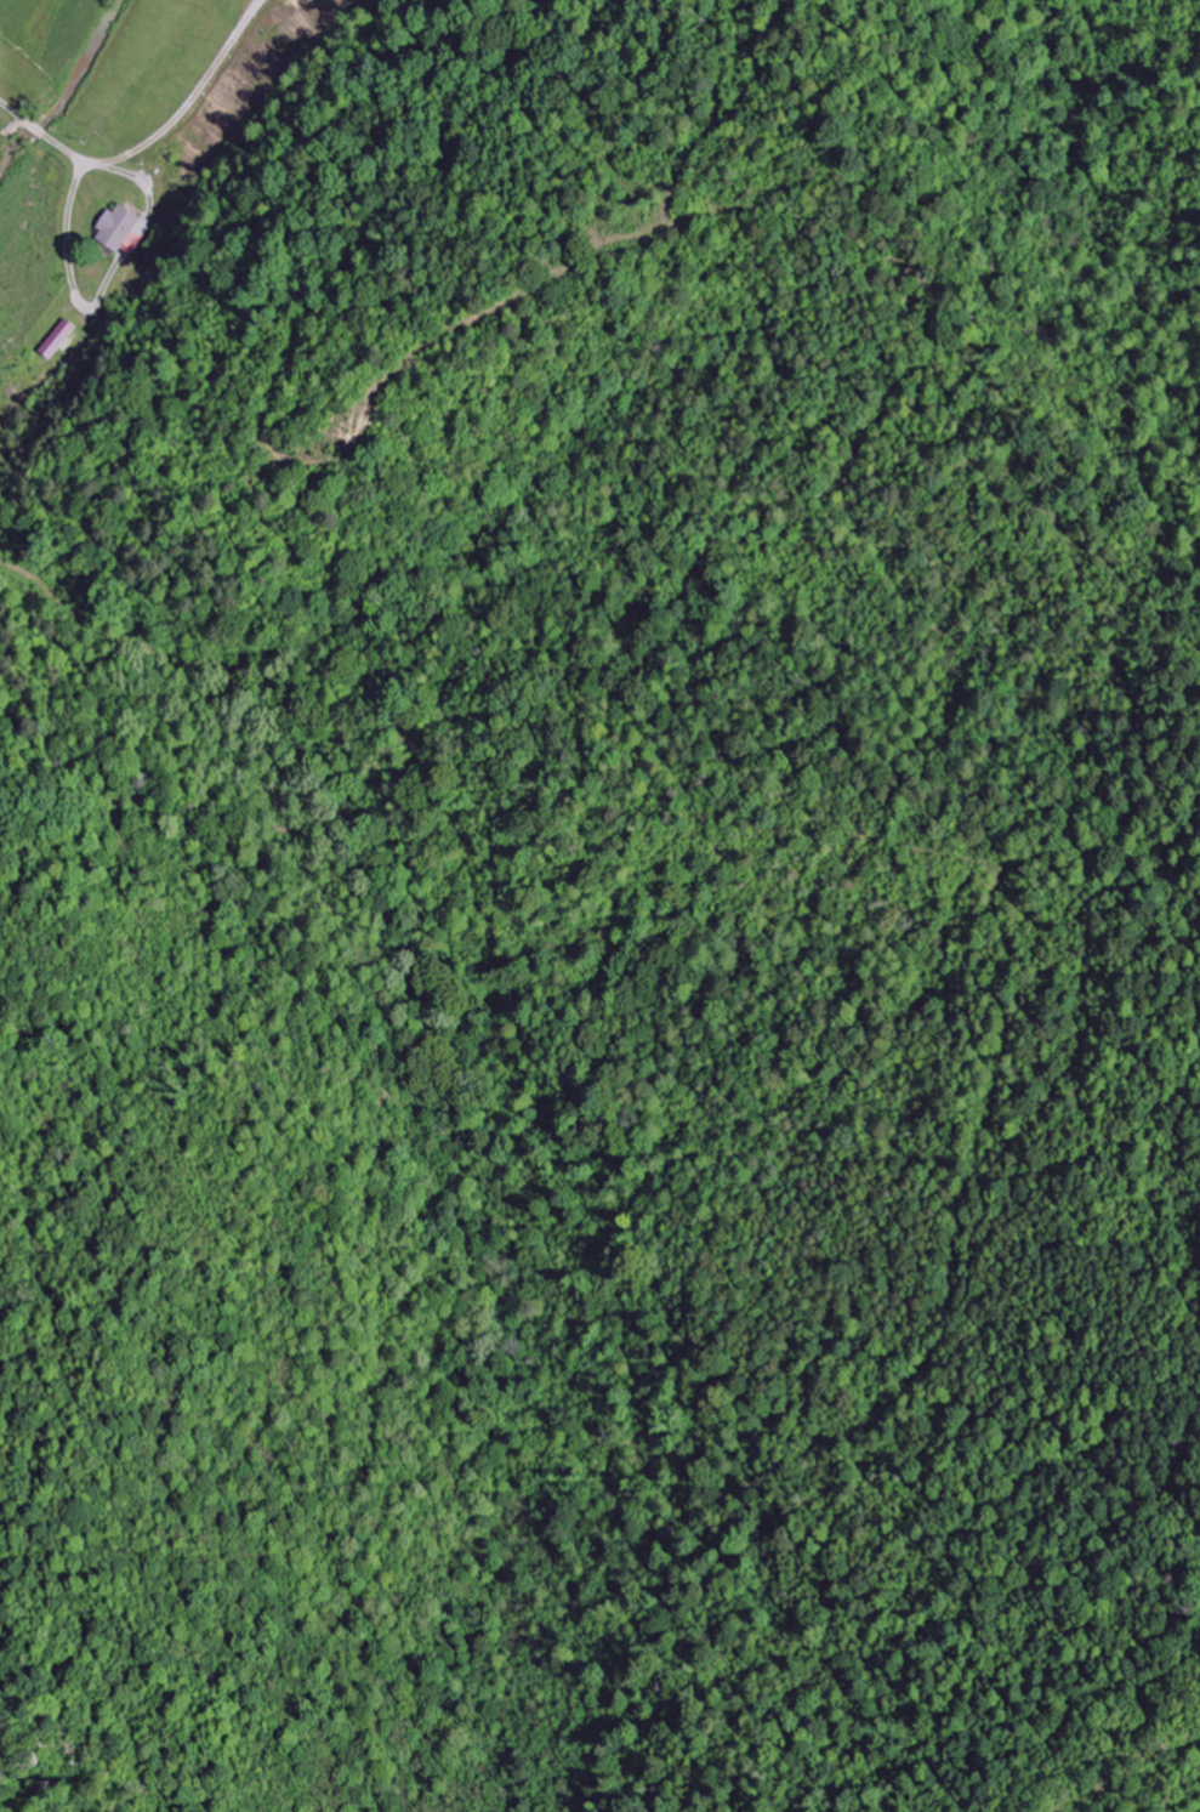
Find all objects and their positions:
building: (118, 228)

